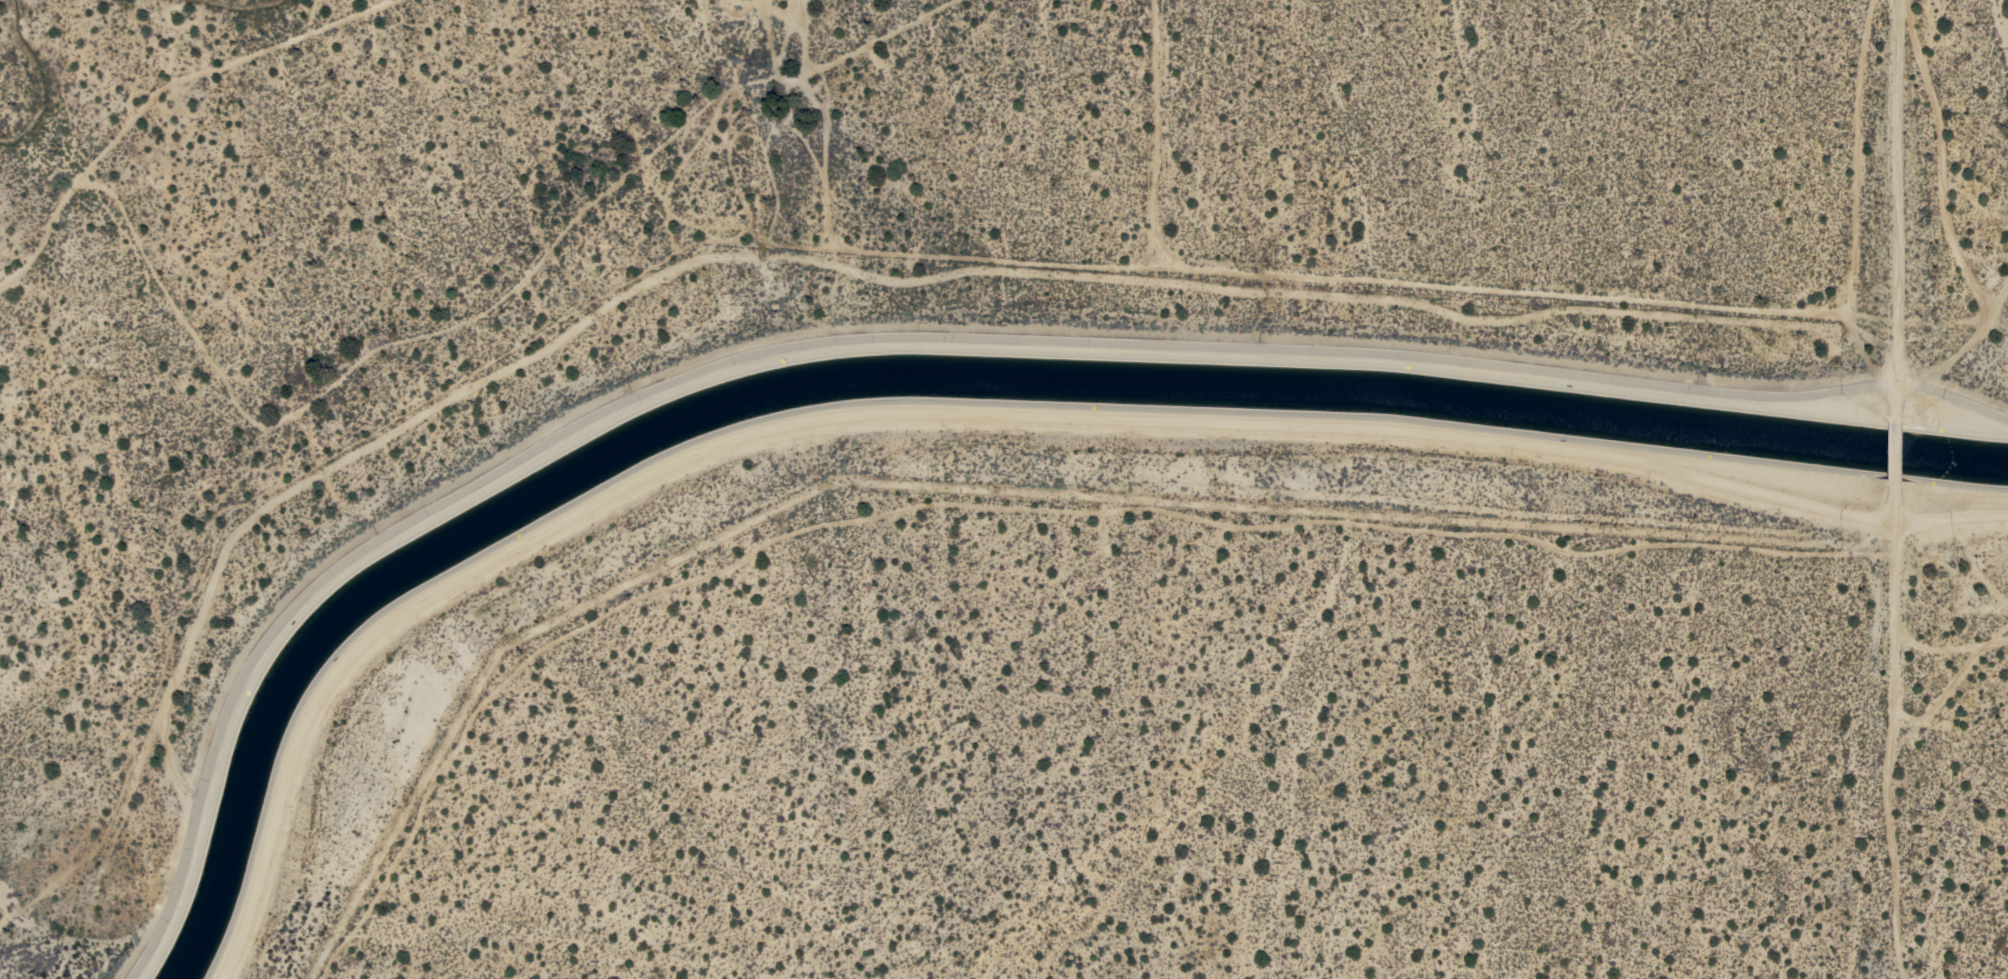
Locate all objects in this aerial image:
road: (1154, 124)

